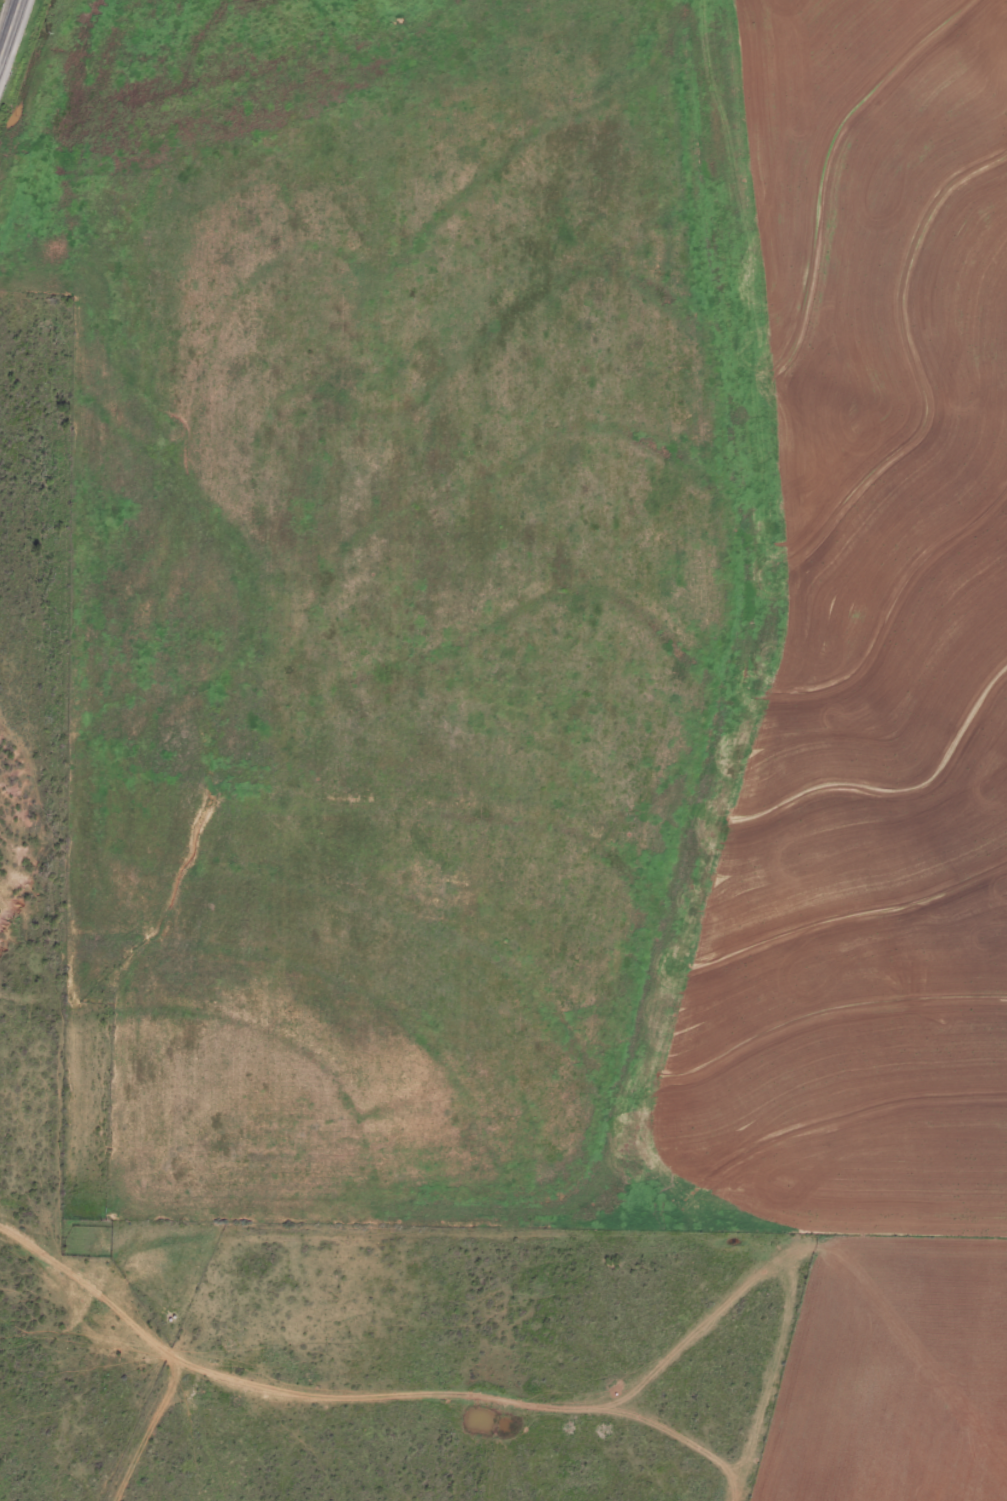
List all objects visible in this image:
road: (8, 24)
road: (516, 1180)

